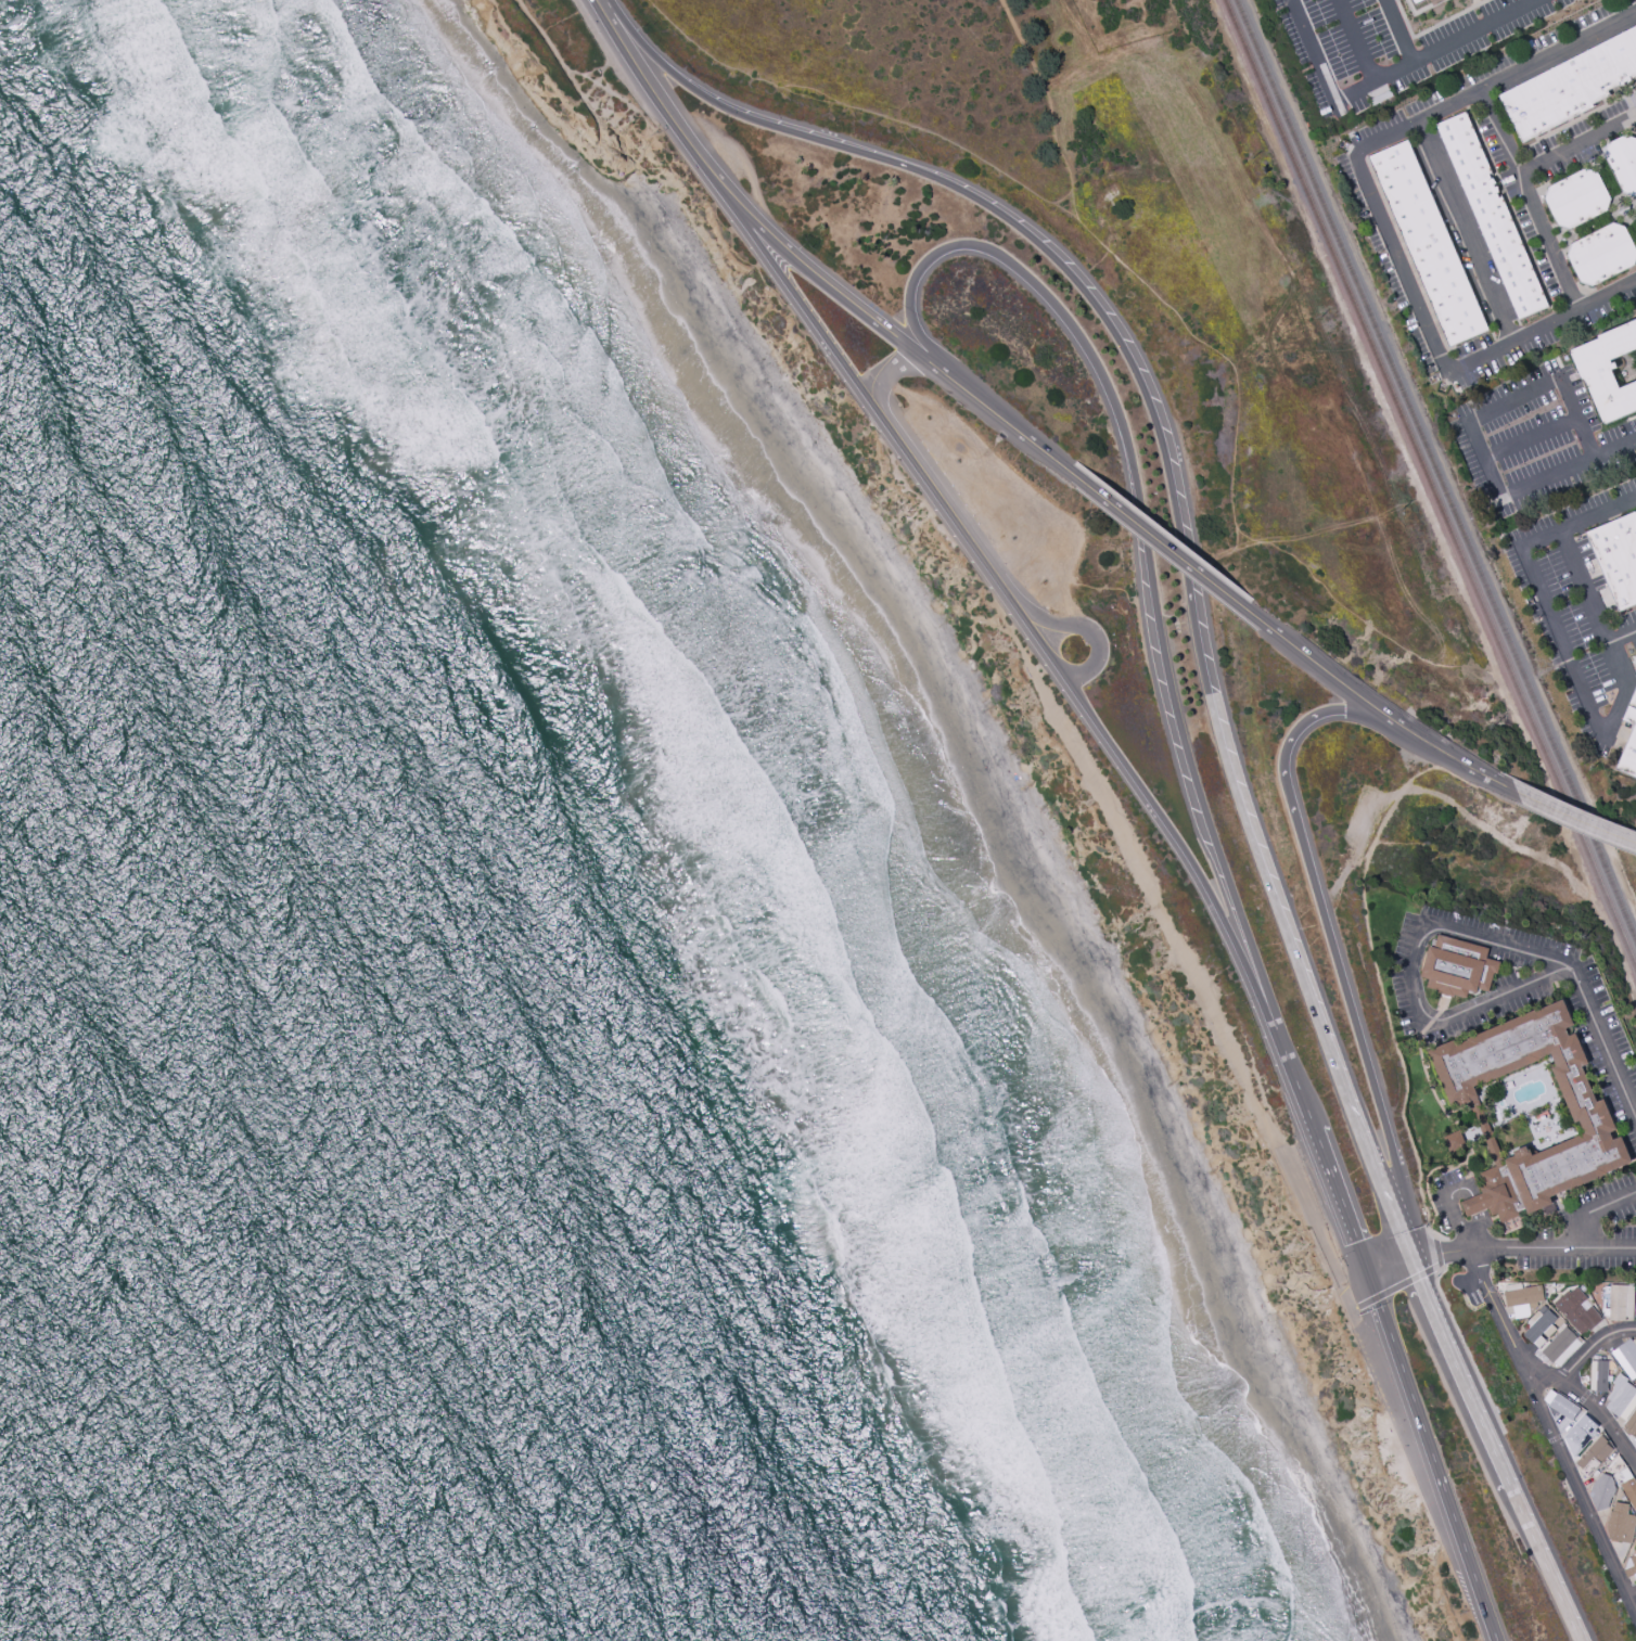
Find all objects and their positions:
building: (1417, 1)
road: (1012, 28)
road: (1395, 31)
road: (1357, 40)
road: (644, 44)
road: (1558, 52)
road: (563, 60)
road: (1148, 68)
road: (1382, 77)
road: (643, 78)
building: (1571, 87)
road: (1420, 117)
road: (925, 130)
road: (1504, 130)
road: (1580, 143)
building: (1623, 163)
building: (1577, 200)
road: (1075, 218)
building: (1493, 218)
road: (1467, 231)
road: (1548, 242)
building: (1429, 243)
building: (1602, 255)
road: (1399, 264)
road: (814, 270)
road: (1608, 295)
road: (800, 303)
road: (1517, 342)
building: (1608, 372)
road: (882, 390)
road: (1146, 398)
road: (1512, 398)
road: (1577, 416)
road: (1006, 423)
road: (1531, 438)
road: (1482, 459)
railway: (1436, 470)
road: (1568, 470)
railway: (1430, 483)
road: (1364, 498)
road: (1136, 500)
road: (1013, 503)
parking lot: (1001, 507)
road: (956, 525)
road: (1158, 539)
building: (1618, 557)
road: (1586, 582)
road: (997, 593)
road: (1023, 610)
road: (1000, 612)
road: (1575, 618)
road: (972, 619)
road: (1058, 627)
road: (1624, 633)
road: (1555, 634)
road: (1036, 640)
road: (1095, 658)
road: (1373, 708)
building: (1629, 743)
road: (1401, 796)
road: (1574, 819)
road: (1162, 825)
road: (1520, 851)
road: (1327, 927)
building: (1458, 966)
road: (1190, 967)
road: (1407, 975)
parking lot: (1518, 999)
road: (1317, 1026)
road: (1406, 1038)
road: (1603, 1042)
road: (1397, 1052)
road: (1282, 1053)
building: (1589, 1114)
building: (1454, 1141)
road: (1468, 1141)
road: (1373, 1168)
road: (1337, 1201)
parking lot: (1317, 1209)
road: (1589, 1211)
parking lot: (1533, 1233)
road: (1433, 1234)
road: (1405, 1241)
road: (1554, 1249)
traffic signals: (1409, 1251)
road: (1415, 1251)
road: (1440, 1252)
traffic signals: (1363, 1272)
road: (1470, 1282)
road: (1395, 1289)
parking lot: (1473, 1297)
building: (1522, 1298)
building: (1621, 1303)
building: (1634, 1309)
building: (1577, 1311)
building: (1539, 1326)
road: (1593, 1346)
building: (1560, 1347)
road: (1466, 1348)
building: (1626, 1358)
road: (1461, 1367)
road: (1536, 1370)
building: (1598, 1375)
building: (1621, 1398)
building: (1563, 1407)
building: (1631, 1423)
building: (1579, 1434)
building: (1593, 1454)
road: (1427, 1457)
building: (1615, 1466)
building: (1602, 1491)
road: (1577, 1493)
building: (1620, 1524)
road: (1549, 1562)
building: (1631, 1565)
building: (1635, 1595)

